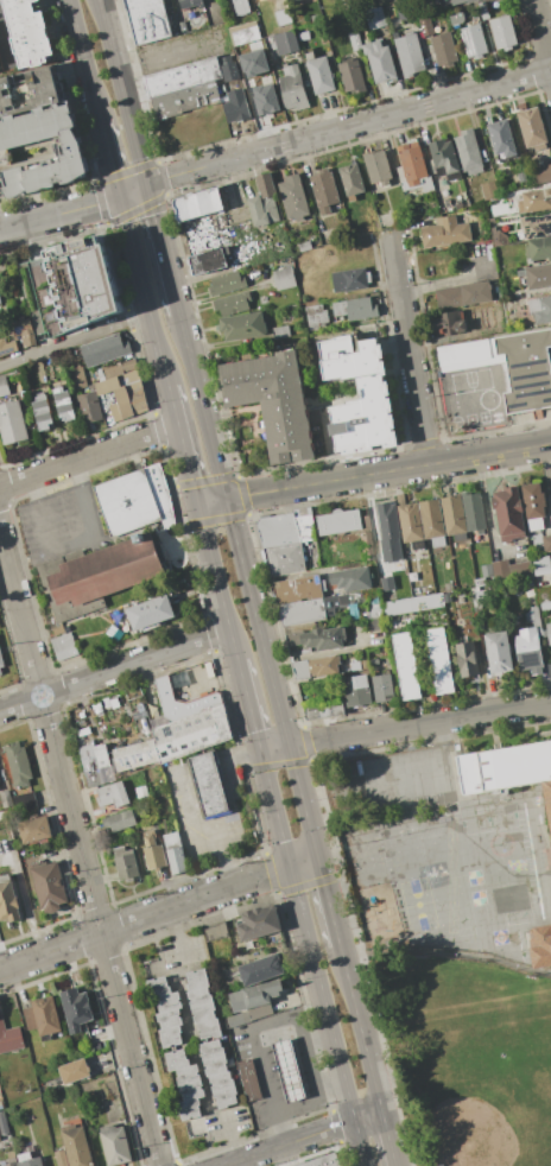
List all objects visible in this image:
building: (179, 0)
building: (259, 0)
building: (291, 0)
building: (452, 1)
building: (471, 1)
building: (241, 6)
building: (483, 9)
building: (281, 17)
building: (375, 18)
building: (452, 18)
building: (147, 20)
building: (502, 31)
building: (28, 33)
building: (243, 33)
road: (540, 34)
building: (473, 39)
building: (355, 40)
building: (286, 43)
road: (5, 47)
building: (443, 47)
building: (408, 55)
road: (84, 61)
building: (380, 61)
building: (321, 75)
building: (351, 77)
building: (182, 78)
building: (292, 88)
building: (27, 91)
road: (121, 91)
building: (185, 101)
building: (532, 126)
road: (347, 127)
building: (500, 137)
building: (39, 151)
building: (467, 152)
road: (110, 159)
building: (444, 159)
building: (412, 163)
building: (376, 167)
building: (543, 175)
building: (351, 179)
traffic signals: (145, 185)
building: (488, 190)
building: (324, 191)
traffic signals: (120, 196)
building: (293, 197)
building: (537, 199)
building: (264, 201)
building: (197, 204)
road: (72, 210)
building: (536, 226)
building: (444, 232)
road: (160, 248)
building: (538, 248)
building: (208, 264)
building: (533, 277)
building: (284, 278)
building: (349, 279)
road: (442, 281)
building: (227, 285)
building: (69, 287)
road: (142, 291)
building: (463, 294)
building: (0, 300)
building: (233, 304)
building: (355, 308)
building: (540, 310)
building: (316, 317)
building: (464, 319)
building: (245, 327)
building: (280, 331)
building: (24, 332)
road: (74, 341)
building: (7, 347)
building: (104, 351)
road: (410, 351)
building: (467, 351)
building: (128, 366)
building: (526, 369)
building: (78, 376)
building: (4, 386)
building: (123, 389)
building: (359, 394)
building: (273, 401)
building: (63, 404)
road: (201, 405)
building: (88, 406)
road: (173, 406)
building: (43, 412)
building: (12, 423)
road: (327, 445)
road: (88, 455)
road: (442, 462)
road: (188, 464)
road: (546, 473)
road: (278, 488)
traffic signals: (224, 499)
building: (534, 500)
road: (210, 501)
building: (135, 502)
traffic signals: (197, 503)
building: (474, 511)
building: (508, 513)
building: (452, 514)
road: (487, 515)
building: (387, 517)
building: (431, 519)
building: (338, 521)
building: (366, 522)
building: (410, 522)
building: (286, 530)
building: (366, 543)
building: (546, 543)
road: (74, 545)
building: (284, 559)
building: (541, 564)
road: (213, 565)
building: (511, 570)
building: (487, 574)
building: (96, 576)
building: (350, 579)
building: (297, 589)
building: (340, 602)
building: (412, 603)
building: (150, 611)
building: (302, 611)
road: (255, 622)
building: (58, 630)
building: (95, 632)
building: (549, 632)
building: (317, 636)
road: (234, 644)
building: (63, 646)
building: (527, 648)
building: (499, 652)
building: (467, 658)
building: (1, 660)
building: (439, 660)
building: (324, 665)
building: (405, 665)
road: (114, 668)
building: (302, 668)
building: (0, 672)
building: (382, 687)
building: (357, 690)
building: (213, 696)
road: (249, 704)
building: (323, 710)
road: (419, 724)
road: (439, 733)
building: (191, 734)
traffic signals: (287, 746)
road: (273, 747)
traffic signals: (260, 749)
building: (135, 754)
building: (102, 755)
road: (220, 758)
road: (226, 759)
road: (203, 762)
building: (18, 765)
building: (90, 766)
road: (180, 768)
building: (507, 768)
road: (223, 769)
road: (205, 774)
road: (226, 779)
road: (183, 780)
parking lot: (391, 782)
road: (412, 782)
building: (208, 784)
road: (208, 784)
road: (185, 790)
road: (211, 793)
building: (110, 794)
road: (189, 799)
building: (27, 800)
road: (302, 801)
road: (274, 807)
building: (119, 820)
building: (34, 830)
building: (363, 831)
road: (197, 832)
road: (81, 848)
building: (368, 849)
building: (153, 851)
building: (175, 853)
park: (406, 854)
traffic signals: (317, 858)
road: (303, 862)
building: (125, 863)
traffic signals: (290, 867)
building: (373, 869)
road: (261, 875)
park: (475, 876)
building: (49, 886)
park: (479, 896)
building: (8, 899)
road: (23, 899)
road: (328, 900)
park: (418, 905)
building: (260, 923)
road: (118, 930)
building: (216, 932)
park: (500, 937)
road: (176, 939)
building: (539, 943)
road: (448, 951)
building: (261, 969)
building: (256, 993)
building: (202, 1005)
building: (76, 1009)
building: (258, 1010)
building: (167, 1012)
road: (328, 1015)
building: (42, 1016)
building: (234, 1020)
road: (360, 1027)
building: (9, 1038)
road: (253, 1040)
park: (468, 1053)
park: (471, 1056)
building: (289, 1070)
building: (74, 1071)
building: (217, 1073)
road: (310, 1079)
building: (251, 1081)
building: (186, 1083)
road: (294, 1100)
building: (2, 1123)
road: (305, 1138)
road: (387, 1139)
road: (229, 1140)
building: (114, 1145)
building: (76, 1146)
building: (59, 1158)
building: (32, 1161)
building: (322, 1161)
building: (12, 1162)

